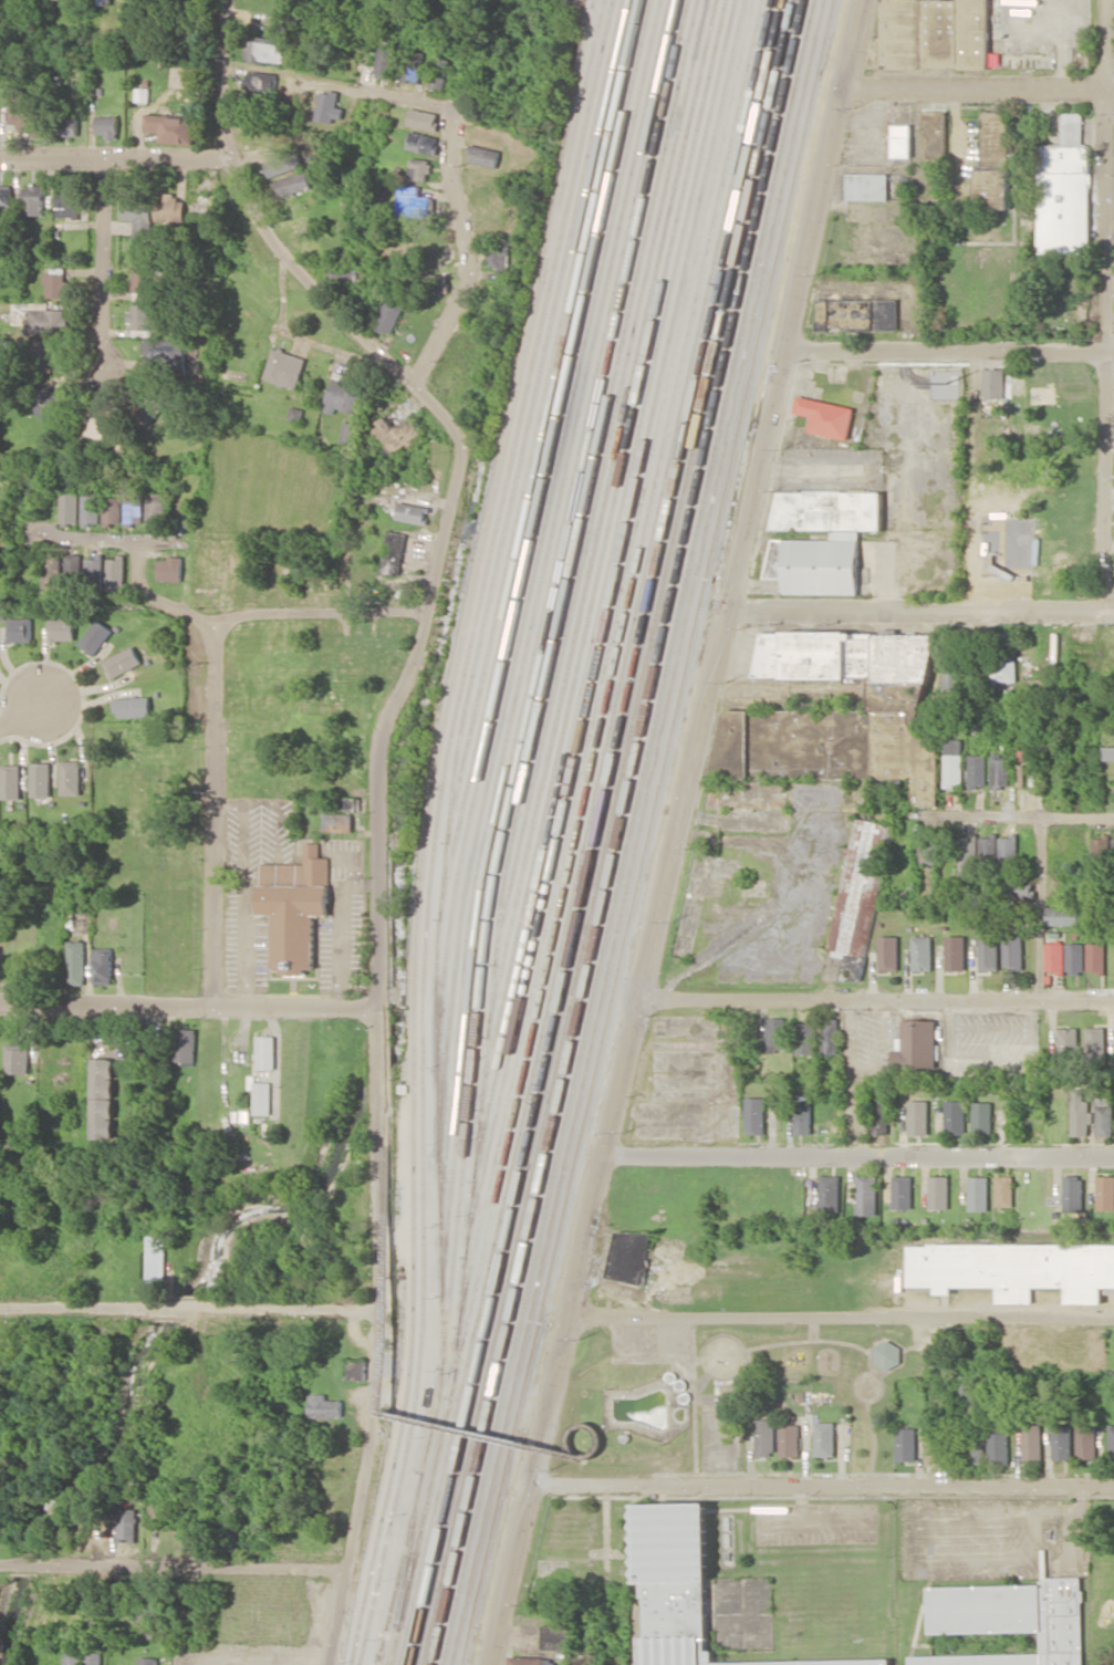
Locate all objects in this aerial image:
building: (103, 1)
building: (198, 2)
railway: (591, 7)
building: (934, 33)
building: (264, 49)
building: (1082, 54)
building: (384, 62)
building: (413, 65)
building: (439, 72)
building: (261, 80)
road: (317, 81)
road: (977, 87)
building: (329, 105)
building: (22, 112)
building: (423, 118)
building: (106, 125)
building: (1072, 126)
building: (71, 127)
building: (171, 127)
building: (935, 133)
building: (903, 141)
building: (424, 143)
road: (113, 152)
building: (483, 156)
building: (993, 162)
building: (283, 163)
building: (419, 169)
building: (292, 184)
building: (867, 186)
building: (6, 194)
building: (1064, 199)
building: (33, 200)
building: (67, 200)
building: (415, 201)
building: (169, 207)
building: (204, 208)
building: (138, 216)
road: (466, 252)
building: (499, 256)
road: (100, 258)
building: (143, 281)
building: (431, 281)
building: (55, 284)
road: (1104, 304)
building: (389, 314)
building: (857, 314)
building: (140, 316)
building: (40, 318)
road: (947, 350)
building: (48, 358)
building: (284, 367)
building: (992, 383)
building: (341, 394)
building: (46, 400)
building: (144, 408)
building: (825, 416)
railway: (539, 419)
building: (94, 423)
building: (394, 429)
building: (347, 433)
railway: (539, 458)
railway: (598, 481)
building: (69, 507)
building: (91, 508)
building: (112, 508)
building: (133, 508)
building: (154, 508)
building: (410, 512)
railway: (600, 517)
railway: (503, 530)
road: (131, 541)
road: (173, 543)
building: (392, 552)
railway: (602, 553)
building: (813, 558)
building: (72, 563)
building: (169, 568)
building: (94, 569)
building: (51, 571)
building: (116, 573)
railway: (532, 574)
railway: (603, 590)
railway: (533, 607)
road: (919, 607)
road: (319, 610)
road: (194, 613)
building: (62, 627)
railway: (603, 627)
building: (20, 628)
building: (95, 636)
railway: (537, 643)
building: (123, 662)
railway: (605, 662)
building: (1003, 668)
railway: (499, 679)
railway: (606, 698)
building: (839, 701)
building: (132, 706)
building: (837, 712)
road: (18, 714)
building: (1108, 752)
building: (952, 761)
building: (977, 770)
building: (1000, 770)
building: (1020, 774)
building: (72, 777)
building: (41, 779)
building: (11, 781)
road: (375, 784)
building: (346, 803)
road: (212, 813)
road: (1020, 818)
building: (336, 821)
railway: (435, 825)
railway: (428, 826)
railway: (512, 826)
railway: (503, 828)
railway: (585, 832)
railway: (595, 832)
railway: (605, 832)
railway: (616, 832)
railway: (627, 832)
railway: (637, 832)
railway: (646, 832)
road: (674, 832)
building: (928, 845)
building: (987, 847)
building: (1008, 849)
building: (1102, 851)
building: (967, 855)
building: (1019, 887)
building: (860, 894)
building: (294, 907)
road: (1037, 909)
building: (1062, 915)
building: (1012, 950)
building: (888, 953)
building: (922, 953)
building: (955, 953)
building: (988, 953)
building: (1054, 957)
building: (1095, 957)
building: (1074, 958)
building: (76, 961)
building: (102, 967)
road: (875, 1000)
road: (185, 1006)
building: (777, 1033)
building: (830, 1036)
building: (805, 1038)
building: (917, 1043)
building: (1069, 1044)
building: (1095, 1044)
building: (185, 1045)
building: (266, 1052)
building: (17, 1059)
building: (103, 1076)
building: (262, 1097)
road: (32, 1103)
building: (1104, 1112)
building: (754, 1114)
building: (1080, 1114)
building: (918, 1116)
building: (955, 1116)
building: (982, 1116)
building: (103, 1117)
building: (803, 1117)
building: (879, 1117)
road: (858, 1156)
building: (1004, 1190)
building: (902, 1191)
building: (938, 1191)
building: (830, 1193)
building: (978, 1193)
building: (1073, 1193)
building: (1105, 1193)
building: (867, 1195)
building: (629, 1255)
building: (156, 1258)
building: (1016, 1269)
road: (185, 1308)
road: (841, 1319)
road: (385, 1343)
building: (888, 1354)
building: (966, 1385)
building: (325, 1406)
building: (766, 1437)
road: (199, 1438)
building: (825, 1438)
building: (790, 1439)
building: (1062, 1440)
building: (1111, 1440)
building: (1032, 1442)
building: (1086, 1442)
building: (906, 1443)
building: (975, 1445)
building: (999, 1446)
building: (934, 1448)
road: (575, 1463)
road: (821, 1484)
building: (127, 1523)
building: (231, 1531)
railway: (412, 1547)
road: (173, 1567)
building: (686, 1589)
building: (1012, 1620)
building: (553, 1636)
building: (83, 1658)
building: (148, 1661)
building: (530, 1661)

